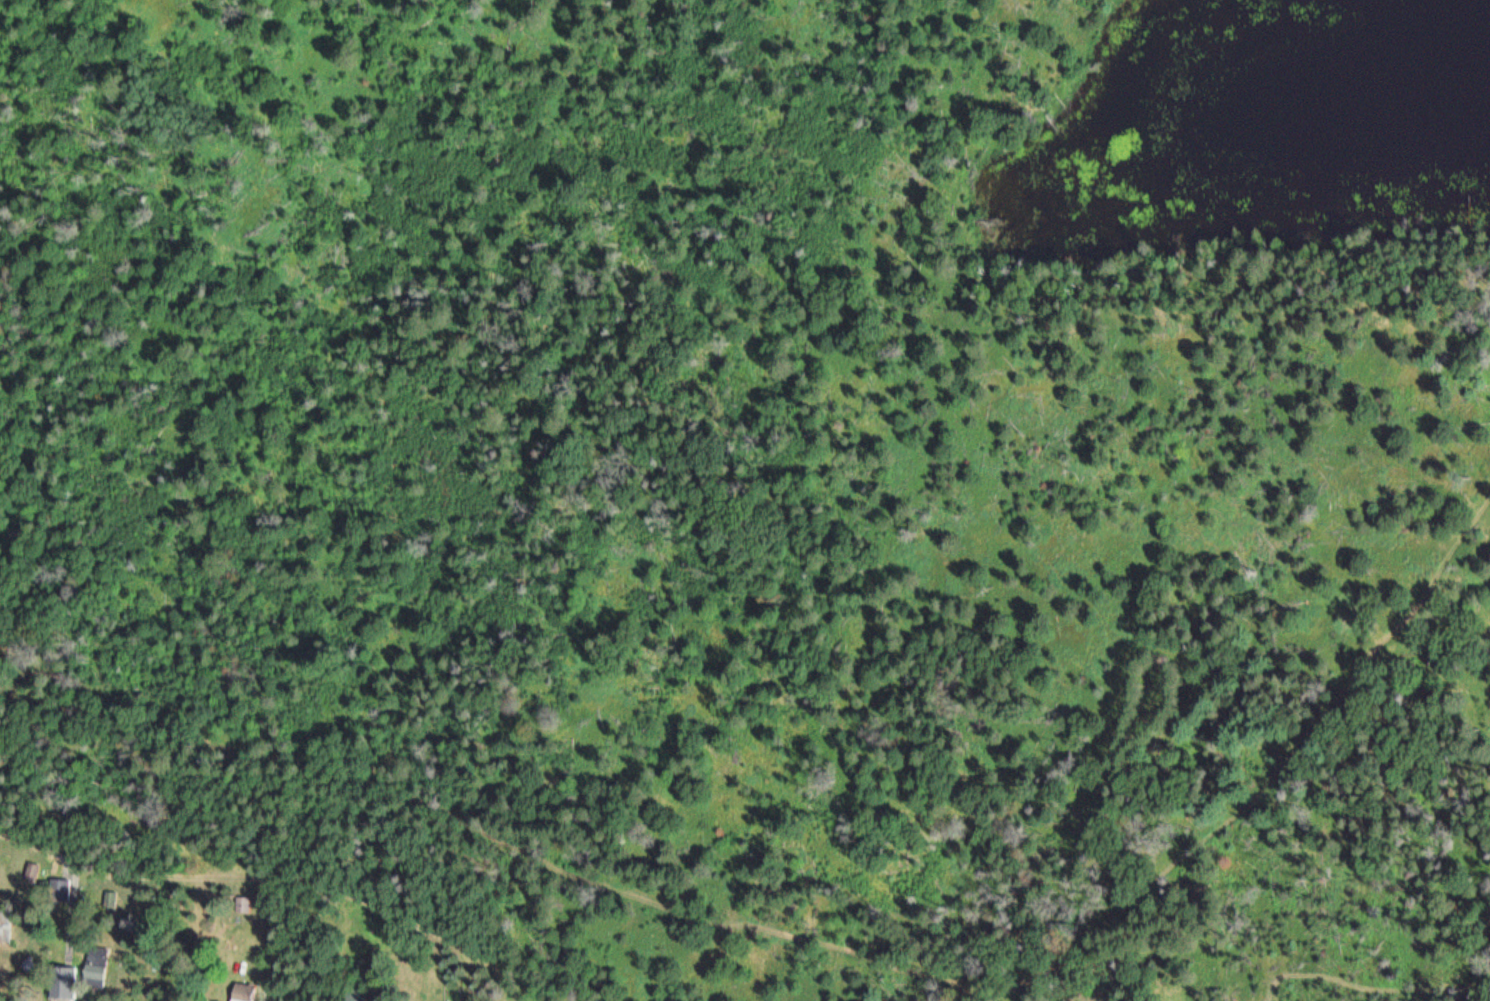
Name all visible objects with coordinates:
road: (592, 797)
road: (264, 886)
building: (243, 904)
building: (5, 928)
building: (99, 955)
building: (64, 984)
building: (245, 1000)

